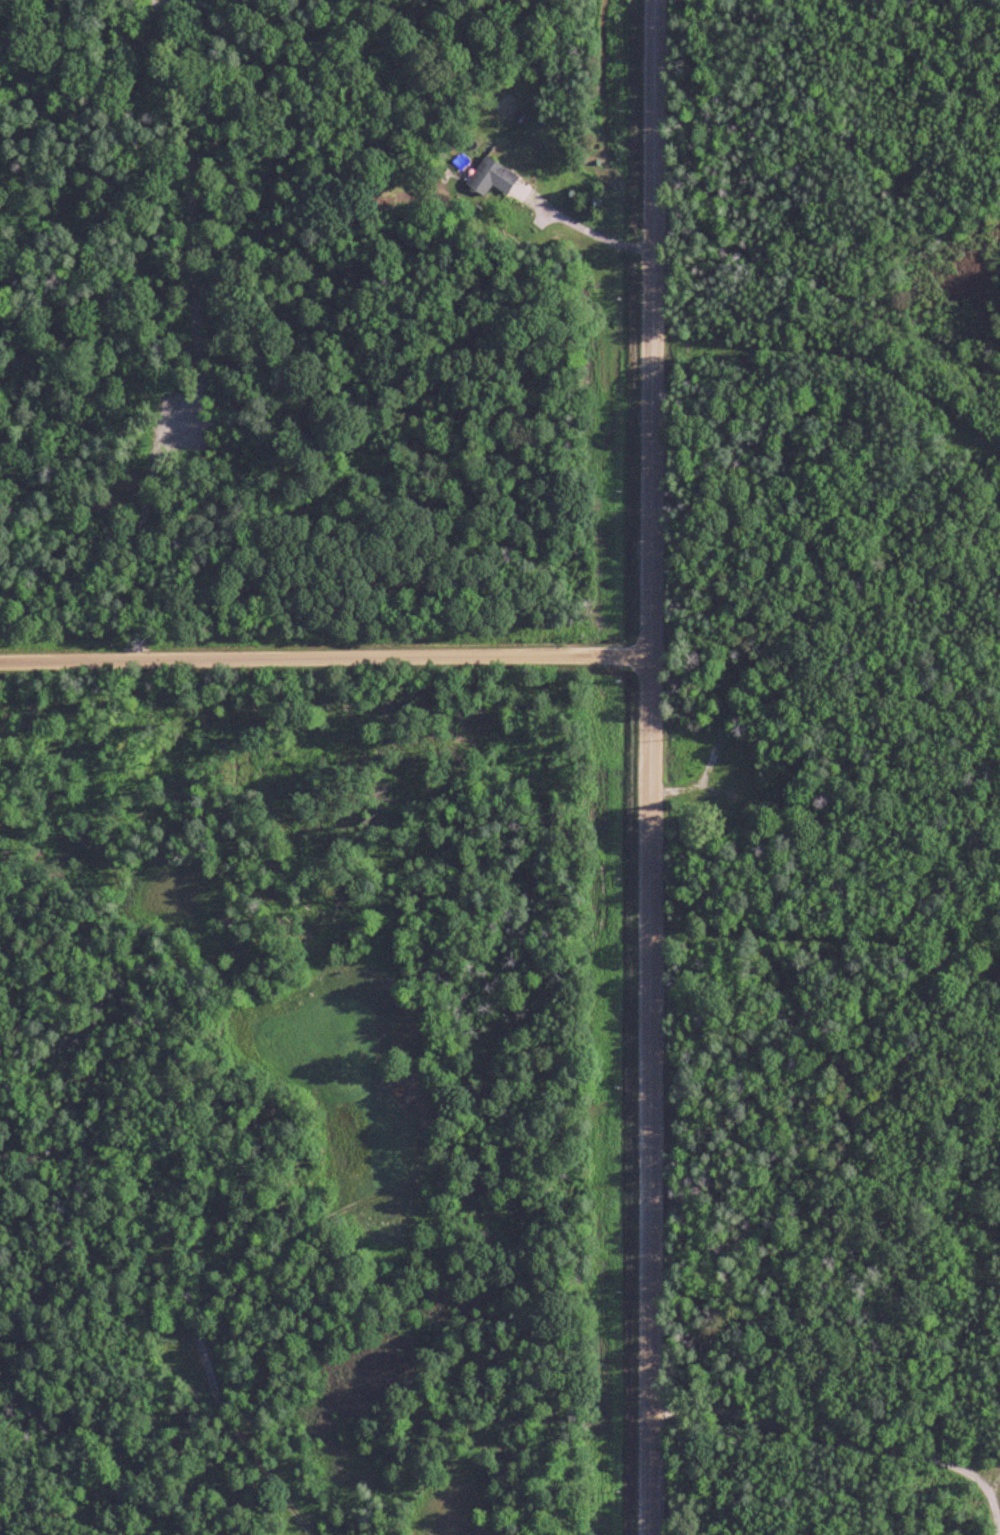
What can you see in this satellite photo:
building: (491, 178)
road: (325, 657)
building: (721, 750)
road: (650, 767)

